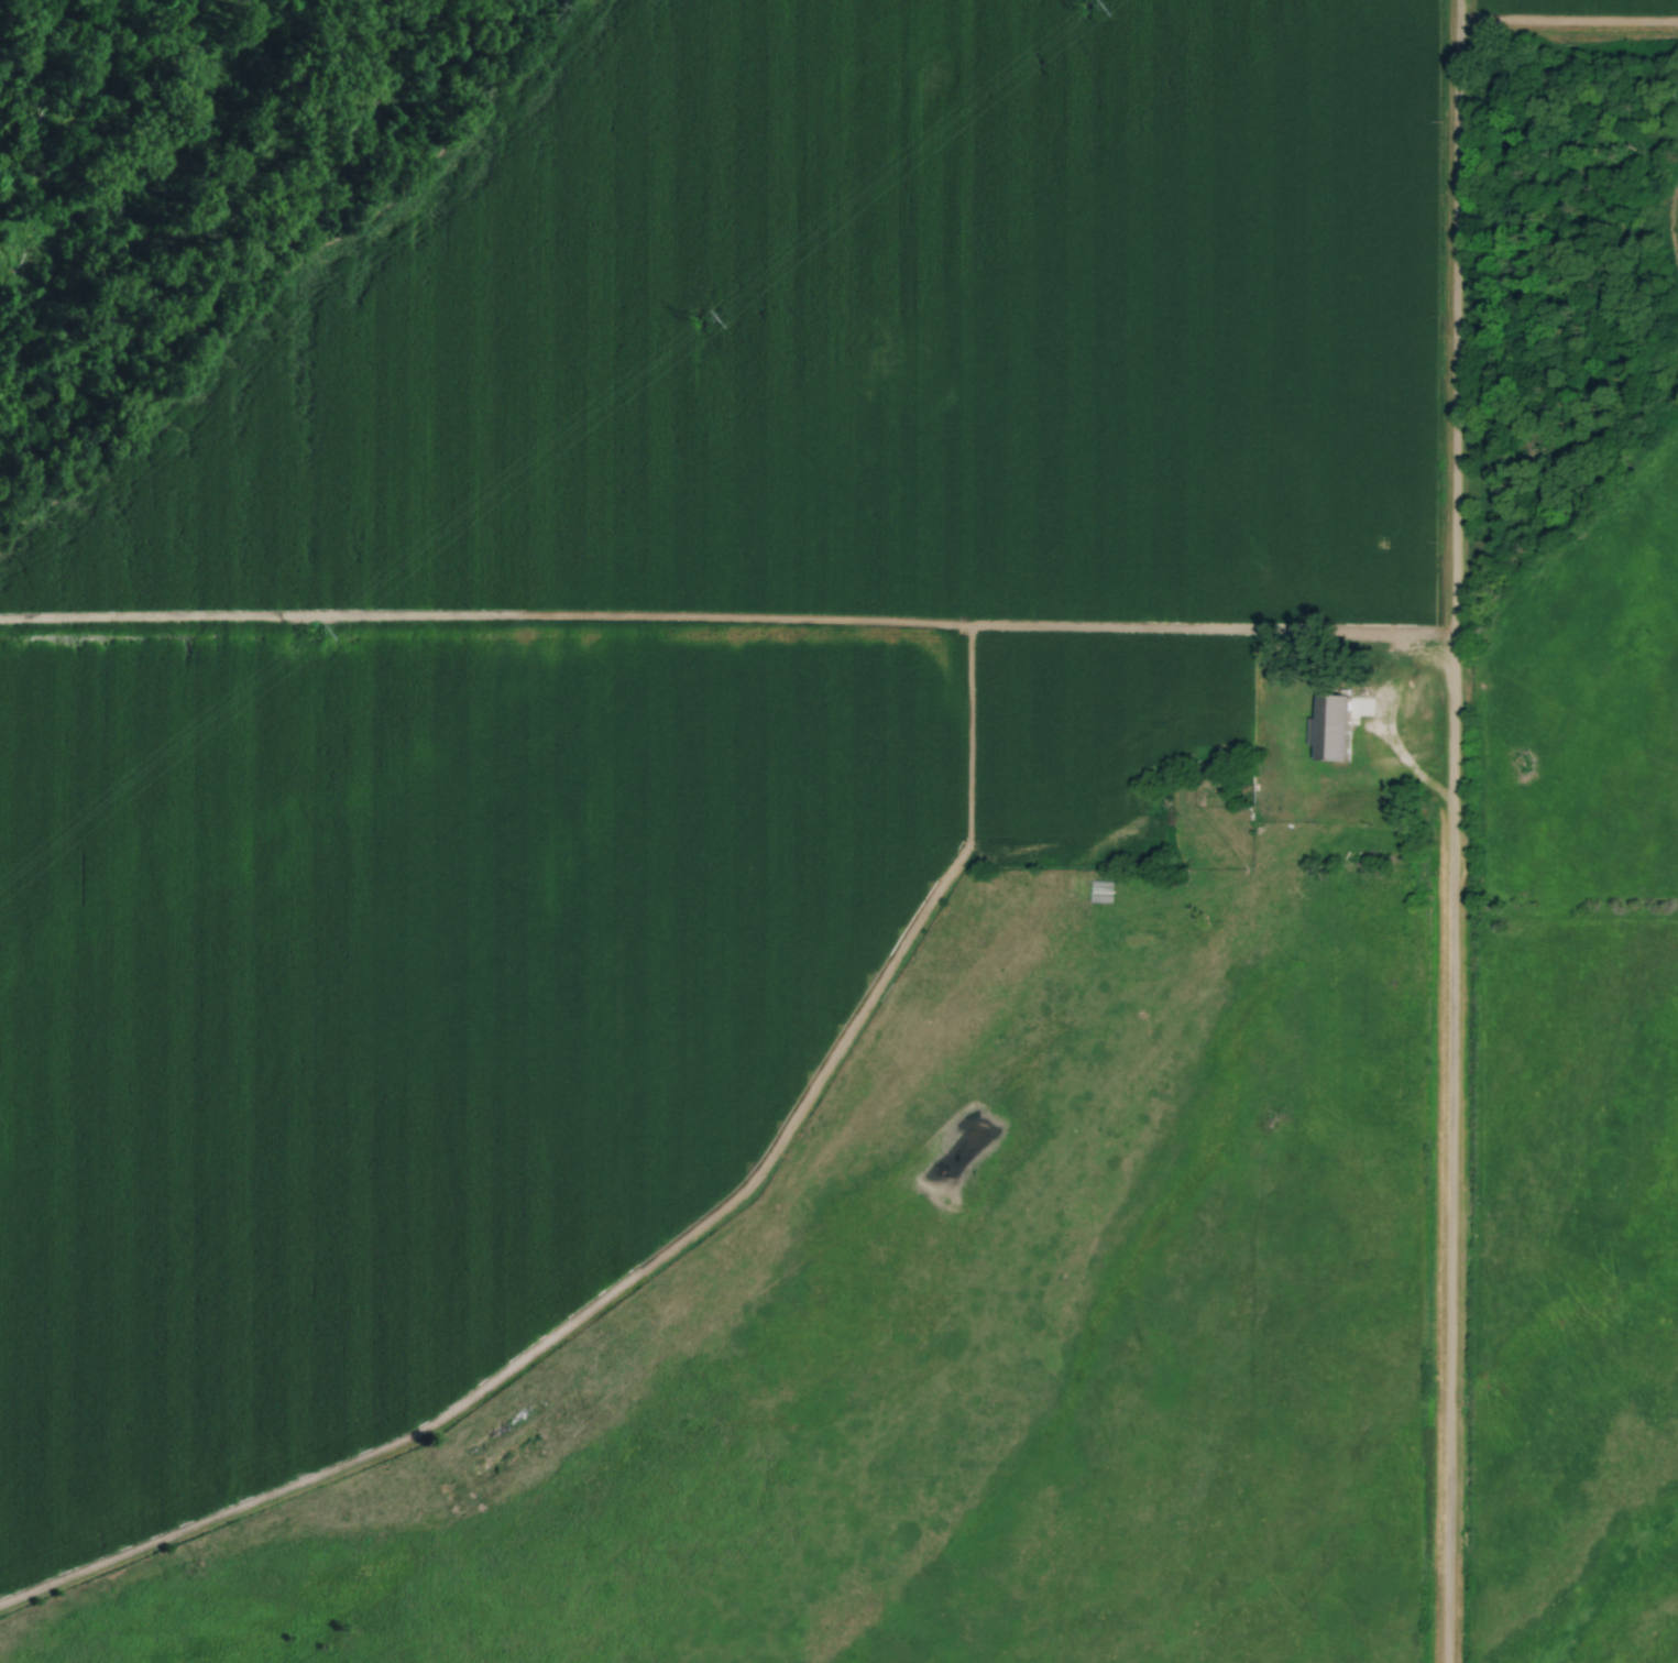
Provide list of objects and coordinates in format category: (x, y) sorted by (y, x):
power tower: (1084, 7)
power tower: (702, 315)
road: (726, 631)
power tower: (310, 634)
building: (1258, 789)
building: (1276, 816)
road: (1451, 831)

